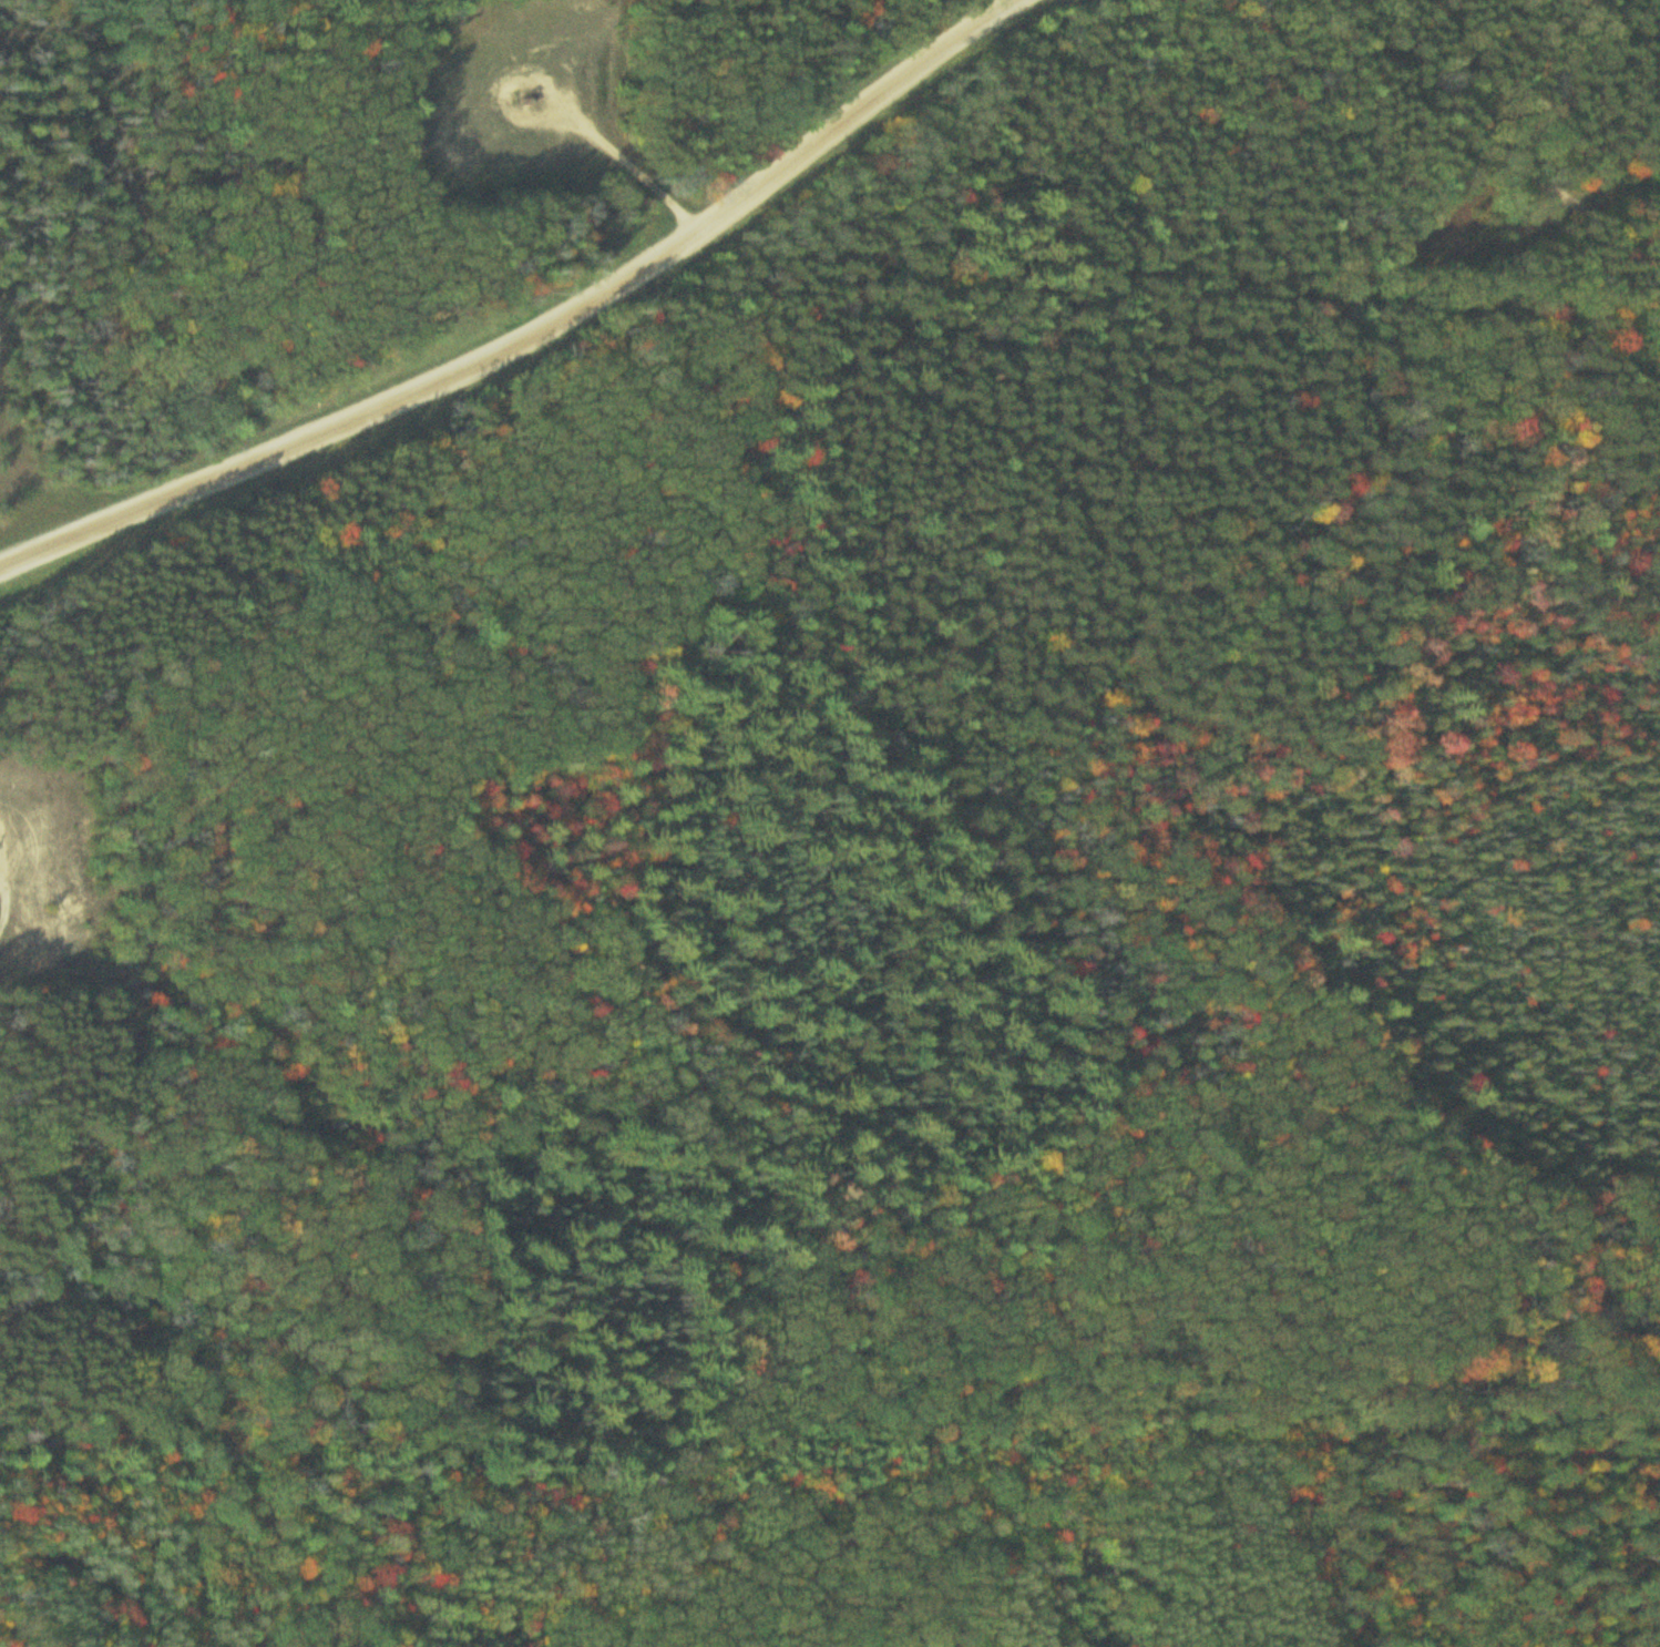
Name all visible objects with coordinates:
petroleum well: (532, 95)
road: (1524, 153)
road: (535, 323)

